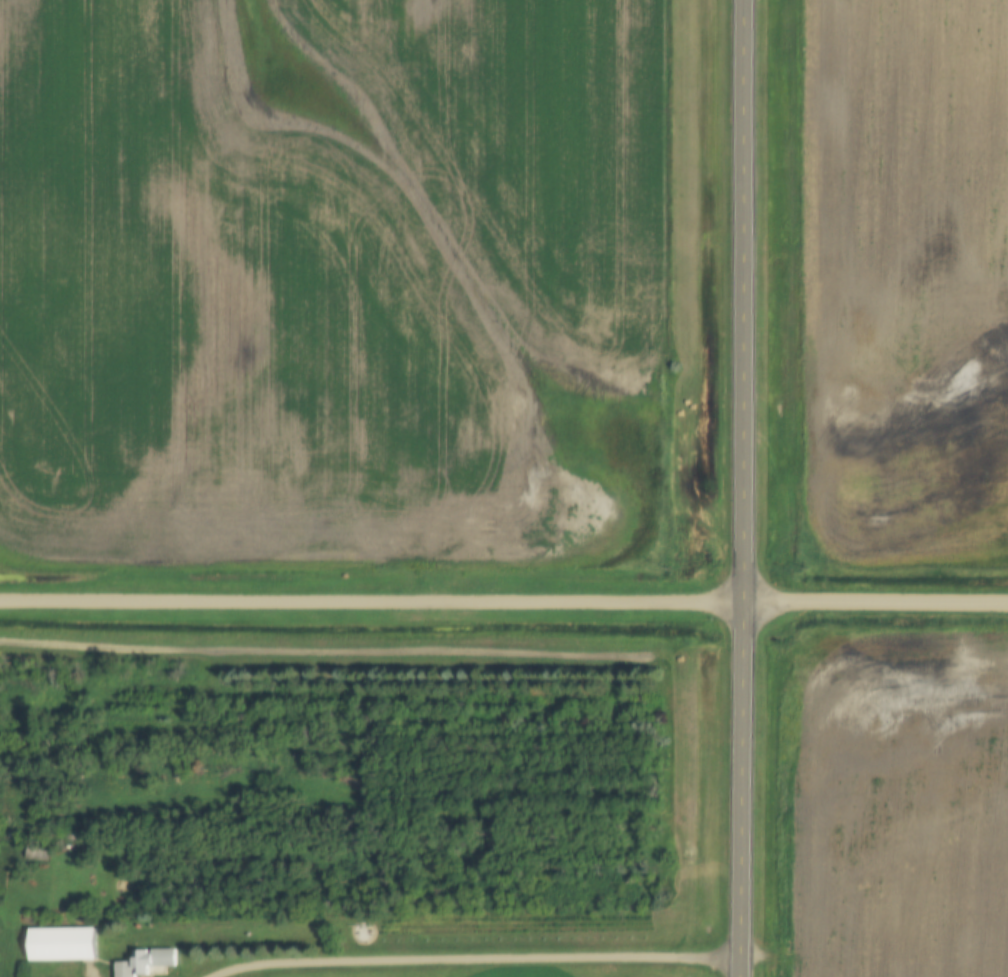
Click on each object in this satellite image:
road: (738, 488)
road: (504, 601)
building: (32, 855)
building: (361, 932)
building: (62, 945)
road: (467, 960)
building: (146, 964)

